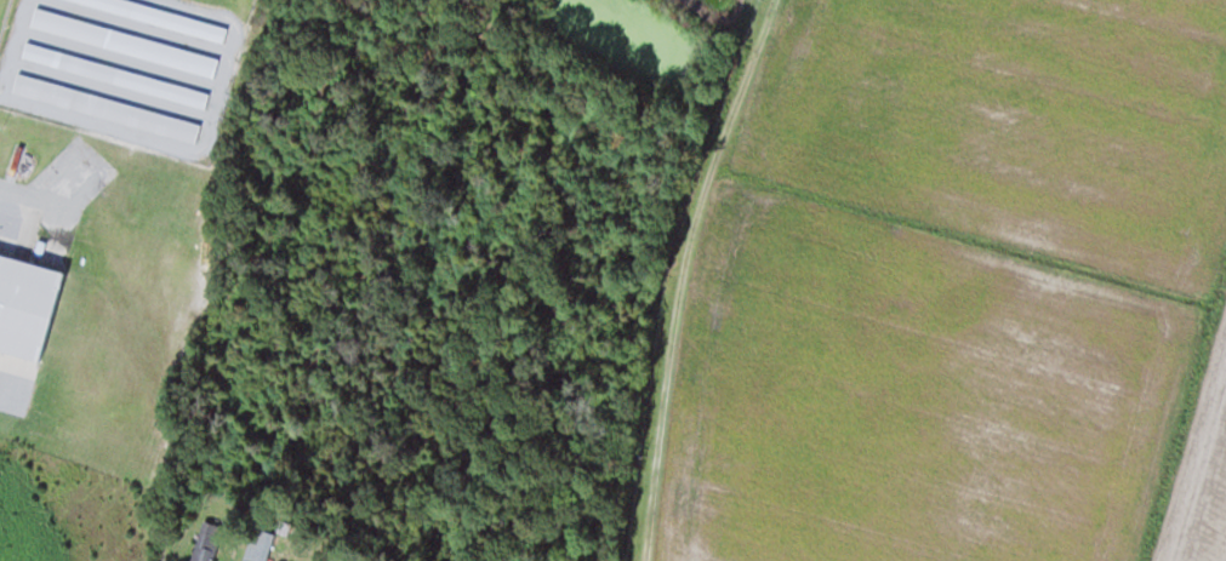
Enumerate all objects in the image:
building: (161, 16)
building: (124, 41)
building: (115, 74)
building: (106, 107)
building: (25, 304)
building: (204, 548)

